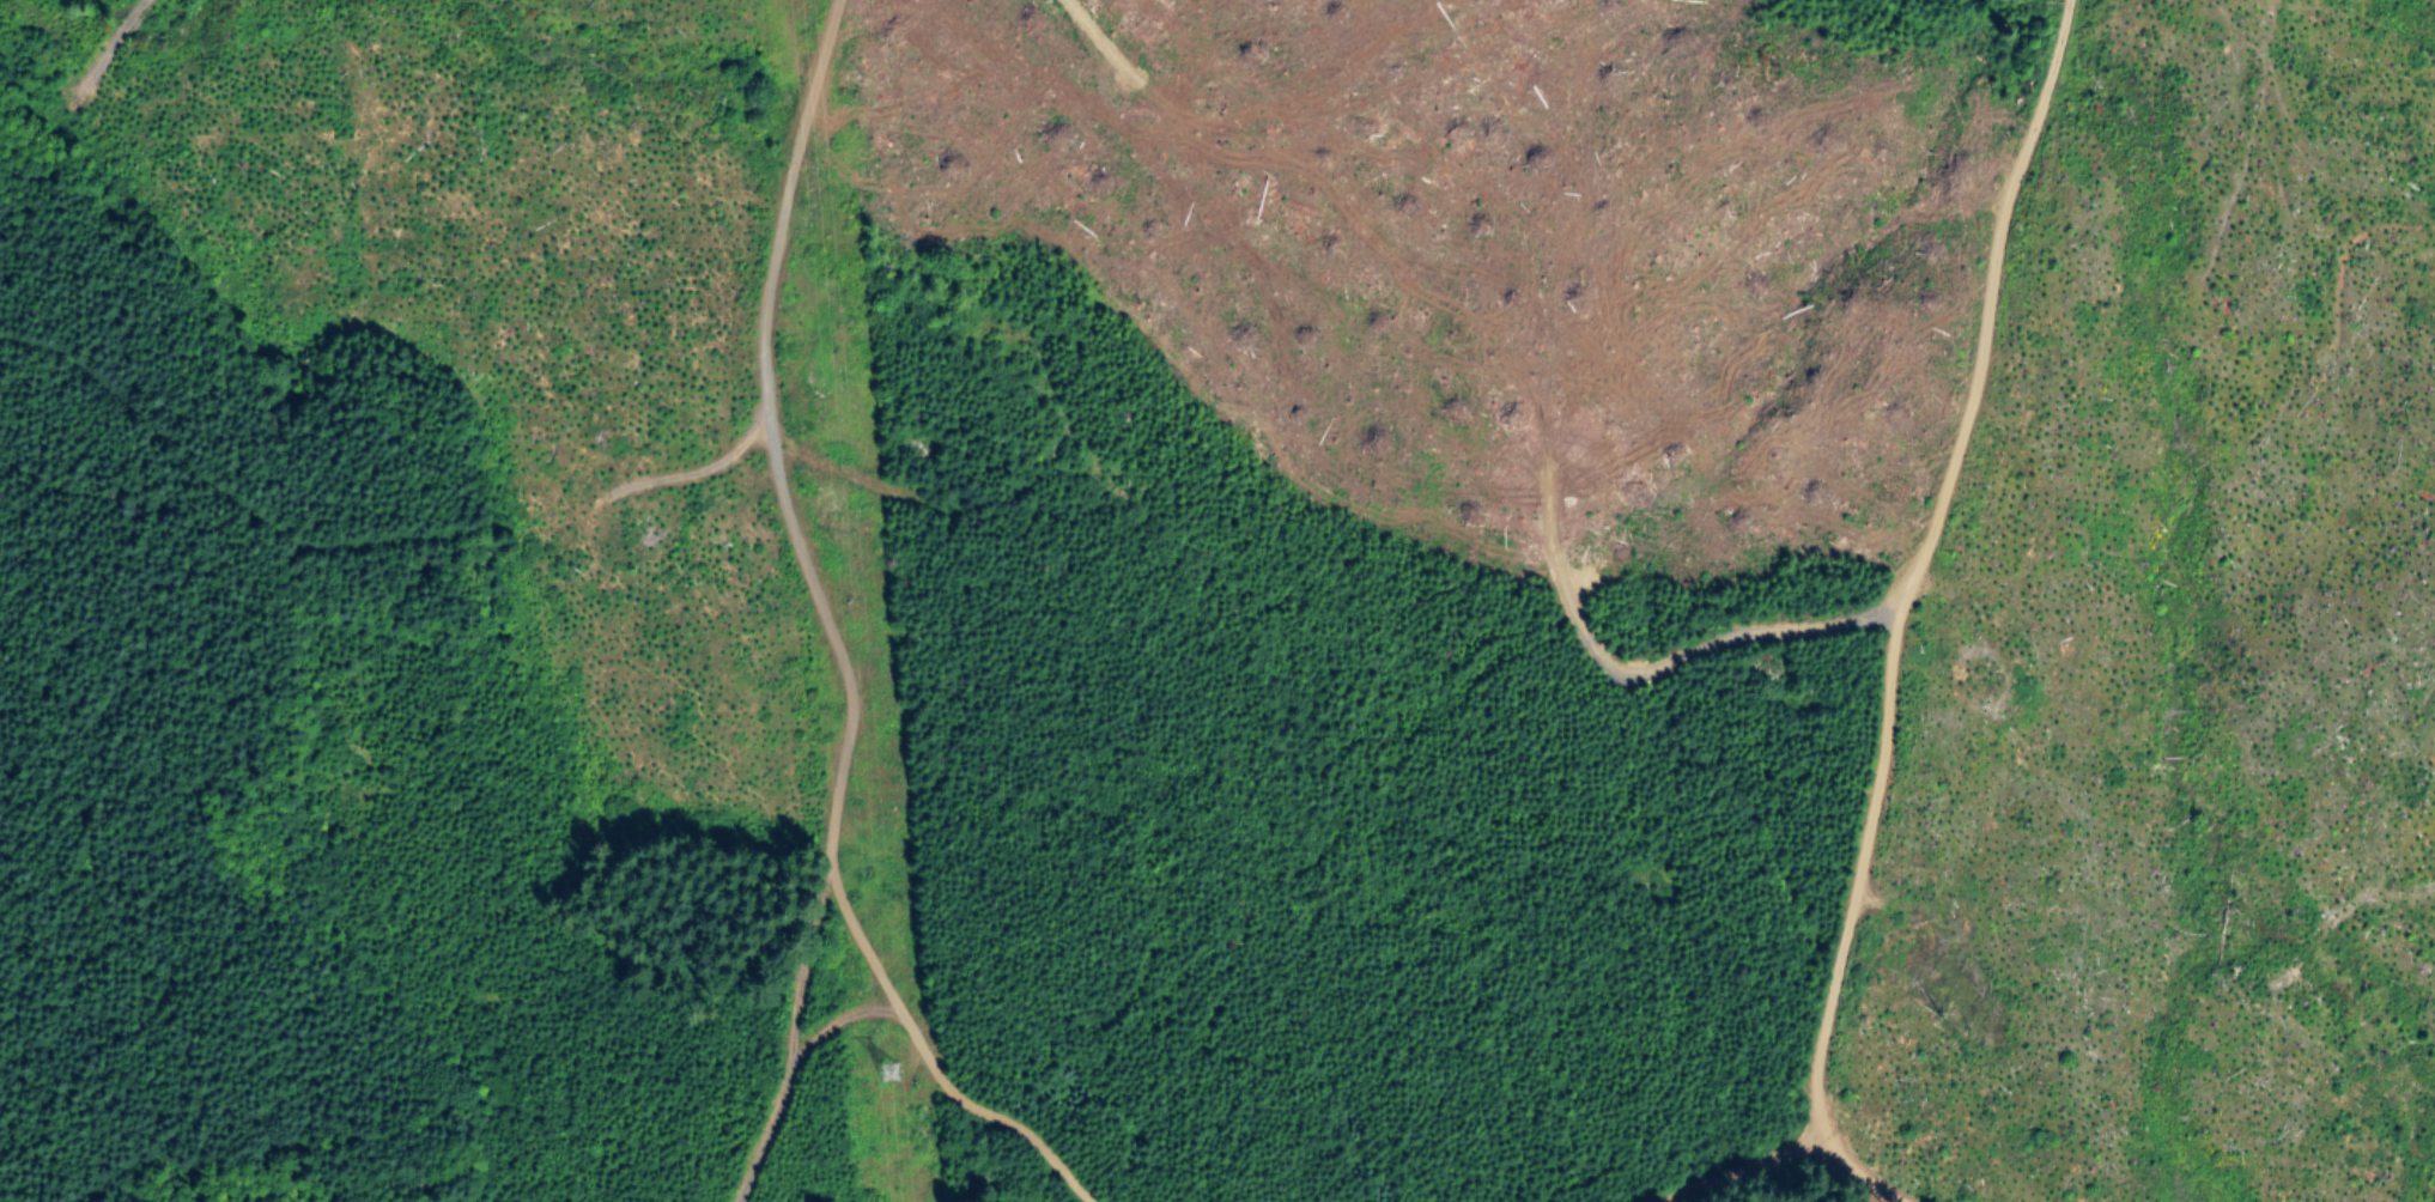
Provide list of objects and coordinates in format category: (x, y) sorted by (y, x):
road: (1962, 606)

